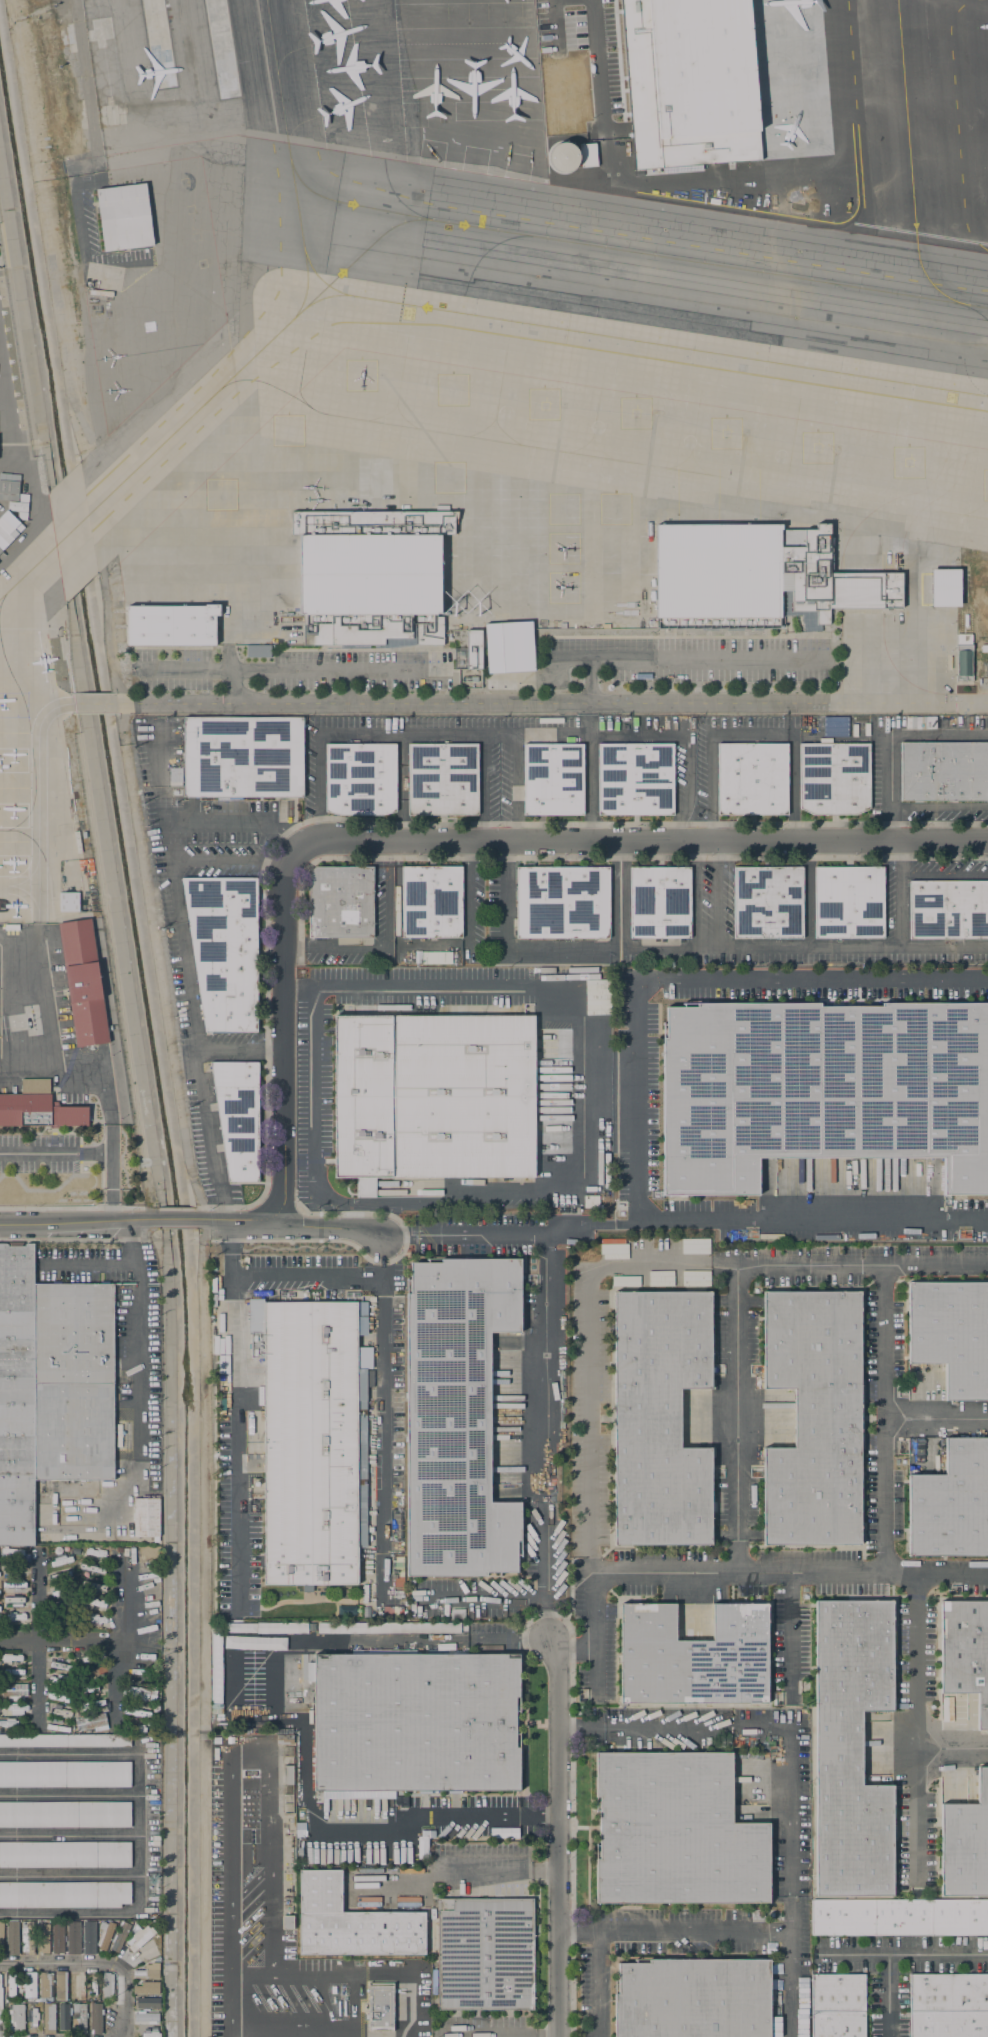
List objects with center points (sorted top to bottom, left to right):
road: (597, 69)
road: (40, 81)
road: (22, 90)
building: (845, 115)
airport hangar: (123, 217)
building: (123, 217)
airport taxiway: (540, 245)
airport taxiway: (313, 301)
airport taxiway: (651, 345)
airport taxiway: (245, 361)
airport: (482, 369)
helipad: (361, 382)
helipad: (453, 396)
helipad: (541, 408)
helipad: (635, 417)
helipad: (287, 434)
helipad: (723, 438)
helipad: (816, 452)
airport taxiway: (594, 459)
helipad: (907, 467)
helipad: (449, 481)
airport hangar: (9, 485)
building: (9, 485)
helipad: (220, 496)
airport hangar: (19, 505)
building: (19, 505)
helipad: (616, 513)
helipad: (563, 515)
airport hangar: (8, 527)
building: (8, 527)
airport taxiway: (71, 532)
helipad: (566, 554)
airport taxiway: (27, 574)
building: (370, 577)
building: (756, 578)
building: (945, 588)
helipad: (564, 596)
building: (171, 625)
building: (508, 638)
building: (473, 642)
building: (963, 644)
building: (258, 651)
road: (685, 657)
building: (473, 662)
building: (509, 663)
building: (964, 668)
building: (985, 669)
road: (189, 670)
road: (320, 671)
road: (345, 688)
airport apron: (13, 705)
road: (92, 705)
road: (552, 705)
road: (123, 710)
building: (834, 726)
road: (503, 732)
road: (711, 736)
road: (887, 736)
building: (242, 757)
building: (944, 771)
parking lot: (161, 772)
building: (174, 775)
parking lot: (706, 775)
building: (360, 778)
building: (833, 778)
building: (443, 779)
building: (553, 779)
building: (635, 779)
building: (752, 779)
road: (483, 786)
road: (514, 786)
road: (793, 789)
road: (891, 789)
road: (186, 821)
road: (696, 825)
road: (753, 825)
road: (795, 825)
road: (841, 825)
road: (892, 825)
road: (946, 825)
road: (711, 827)
road: (640, 842)
road: (269, 853)
road: (387, 854)
road: (601, 858)
road: (227, 862)
road: (944, 878)
road: (620, 897)
road: (696, 897)
road: (717, 897)
road: (808, 897)
road: (899, 897)
building: (68, 901)
building: (341, 902)
building: (431, 902)
building: (562, 902)
building: (660, 902)
building: (768, 902)
building: (849, 902)
building: (948, 909)
road: (432, 947)
road: (155, 948)
building: (224, 950)
road: (292, 952)
road: (387, 952)
road: (691, 952)
parking lot: (180, 956)
road: (188, 975)
building: (83, 982)
parking lot: (824, 986)
road: (551, 988)
road: (282, 1030)
building: (822, 1089)
building: (432, 1097)
road: (638, 1099)
building: (39, 1111)
building: (237, 1116)
road: (87, 1153)
parking lot: (211, 1154)
road: (216, 1162)
road: (199, 1199)
road: (79, 1209)
road: (176, 1209)
road: (182, 1218)
road: (80, 1221)
road: (291, 1221)
road: (203, 1231)
road: (496, 1236)
road: (635, 1263)
road: (101, 1265)
road: (275, 1281)
road: (142, 1325)
building: (951, 1334)
building: (50, 1387)
building: (455, 1417)
building: (813, 1417)
building: (659, 1418)
road: (736, 1419)
road: (883, 1419)
road: (935, 1421)
road: (383, 1422)
road: (545, 1436)
building: (313, 1444)
road: (237, 1448)
building: (914, 1449)
building: (951, 1503)
building: (145, 1518)
building: (56, 1551)
building: (74, 1551)
building: (11, 1552)
building: (94, 1553)
building: (60, 1562)
building: (1, 1568)
building: (15, 1569)
building: (89, 1569)
road: (788, 1574)
building: (60, 1577)
building: (13, 1585)
building: (94, 1587)
building: (61, 1593)
road: (37, 1596)
road: (125, 1596)
building: (12, 1600)
road: (483, 1601)
building: (91, 1602)
building: (64, 1608)
building: (15, 1617)
building: (94, 1619)
building: (66, 1623)
building: (389, 1627)
building: (281, 1631)
road: (595, 1634)
road: (790, 1636)
road: (202, 1640)
road: (70, 1641)
road: (391, 1642)
road: (573, 1650)
building: (965, 1652)
building: (139, 1656)
building: (693, 1656)
building: (12, 1658)
building: (92, 1658)
building: (273, 1664)
building: (59, 1667)
building: (221, 1671)
building: (309, 1671)
building: (139, 1672)
building: (10, 1673)
building: (91, 1673)
building: (58, 1682)
road: (37, 1685)
road: (114, 1685)
building: (90, 1689)
building: (12, 1691)
building: (138, 1694)
building: (58, 1698)
building: (90, 1705)
building: (15, 1708)
building: (57, 1713)
building: (136, 1713)
building: (415, 1722)
building: (8, 1723)
building: (90, 1723)
building: (56, 1728)
building: (133, 1729)
road: (916, 1729)
building: (65, 1740)
building: (216, 1740)
building: (285, 1740)
building: (851, 1747)
road: (952, 1750)
road: (232, 1752)
road: (790, 1766)
building: (65, 1774)
building: (288, 1775)
road: (69, 1794)
road: (571, 1797)
building: (65, 1814)
road: (478, 1817)
road: (139, 1829)
building: (675, 1832)
road: (69, 1834)
road: (557, 1836)
building: (965, 1844)
building: (65, 1854)
road: (474, 1873)
road: (69, 1875)
building: (64, 1894)
building: (899, 1917)
building: (287, 1922)
building: (351, 1922)
road: (674, 1932)
building: (105, 1933)
building: (74, 1935)
building: (120, 1935)
building: (28, 1936)
building: (138, 1936)
building: (88, 1937)
building: (1, 1938)
building: (11, 1938)
building: (58, 1938)
building: (43, 1939)
building: (485, 1953)
road: (900, 1956)
road: (96, 1963)
building: (147, 1970)
road: (353, 1973)
building: (12, 1984)
road: (598, 1984)
building: (59, 1985)
building: (46, 1986)
building: (106, 1986)
building: (28, 1987)
building: (74, 1987)
building: (146, 1987)
road: (889, 1996)
building: (693, 1998)
building: (0, 2000)
building: (147, 2002)
building: (838, 2005)
building: (949, 2005)
building: (380, 2007)
building: (62, 2016)
building: (16, 2017)
building: (48, 2017)
building: (79, 2017)
building: (33, 2018)
building: (96, 2019)
building: (150, 2019)
road: (519, 2036)

